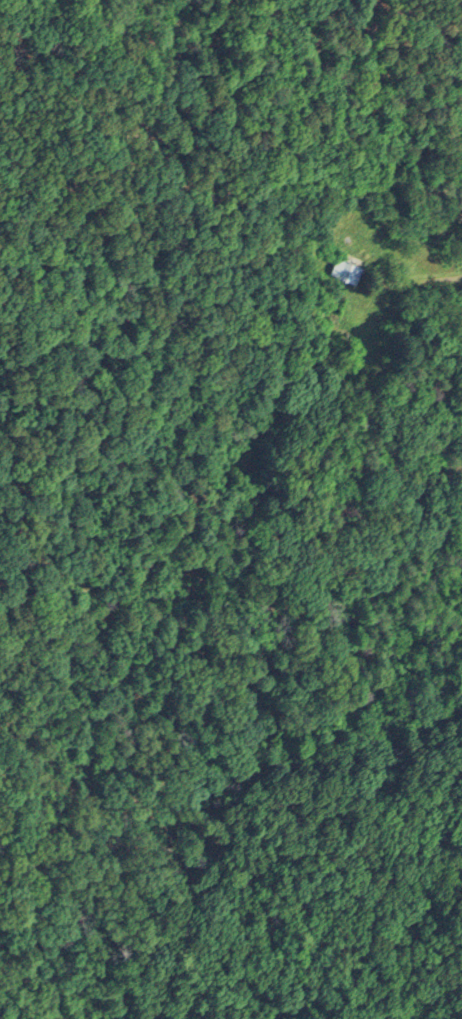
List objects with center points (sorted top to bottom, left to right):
building: (340, 269)

